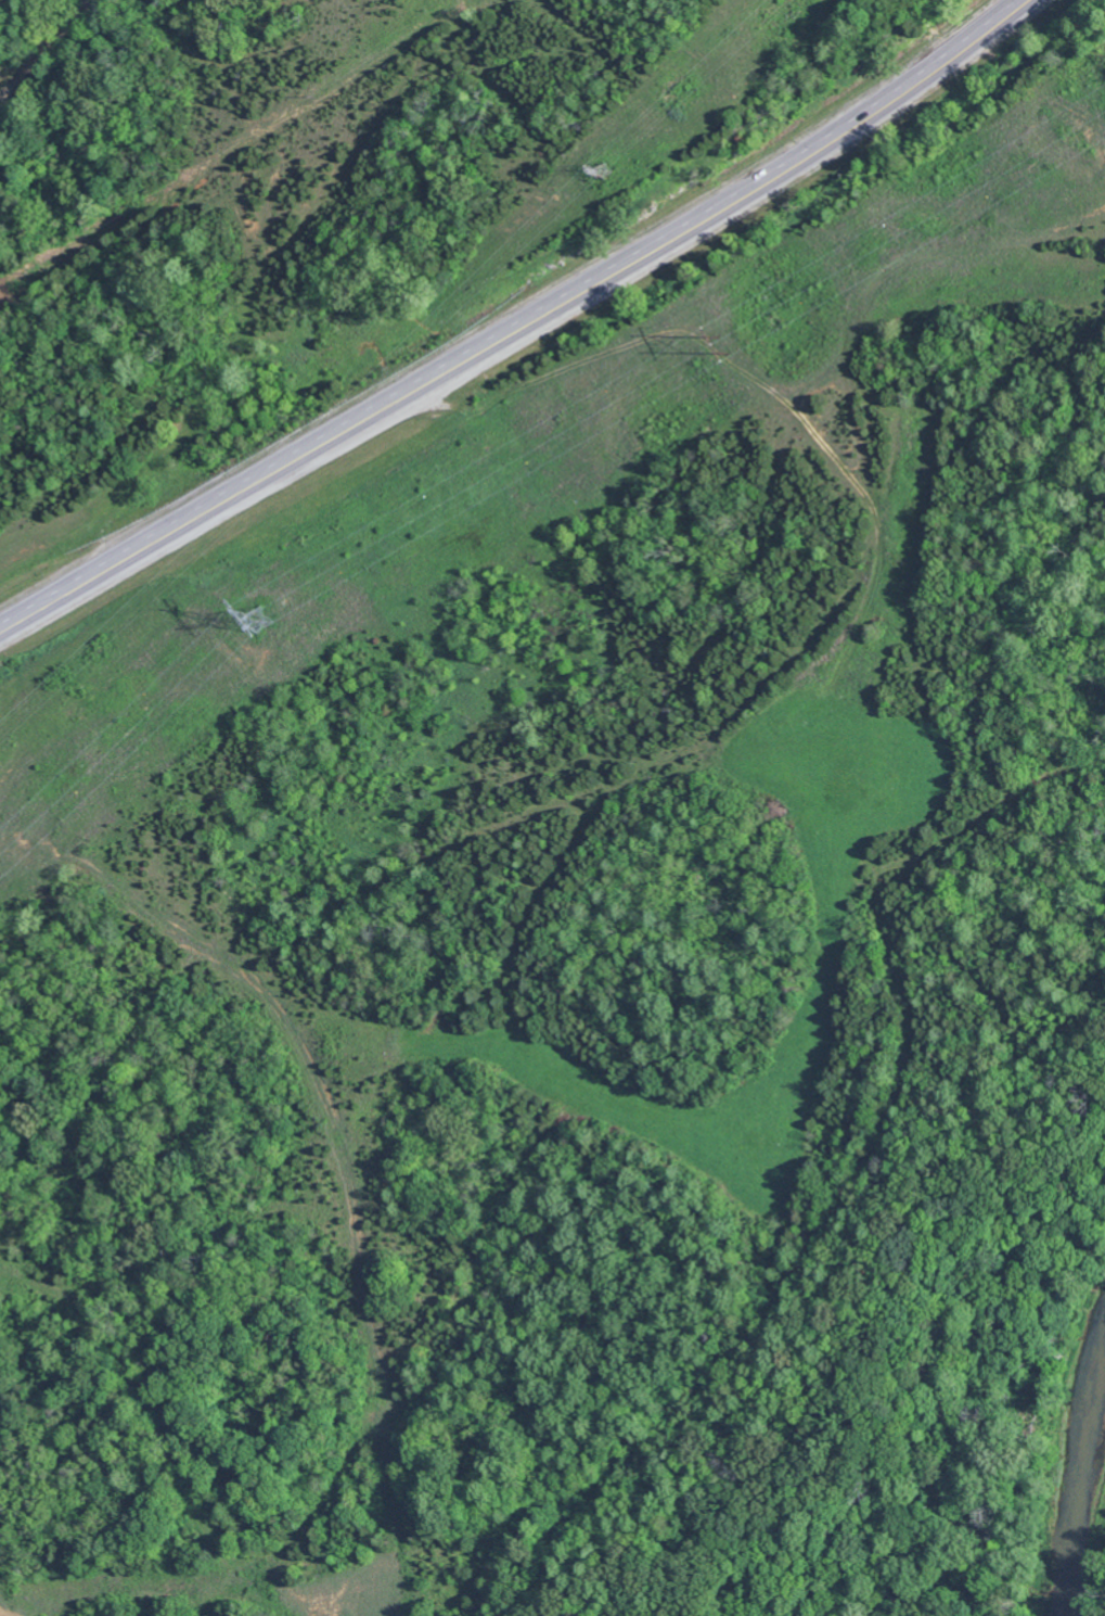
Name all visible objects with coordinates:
road: (74, 72)
power tower: (603, 170)
road: (518, 323)
power tower: (725, 345)
power tower: (262, 622)

